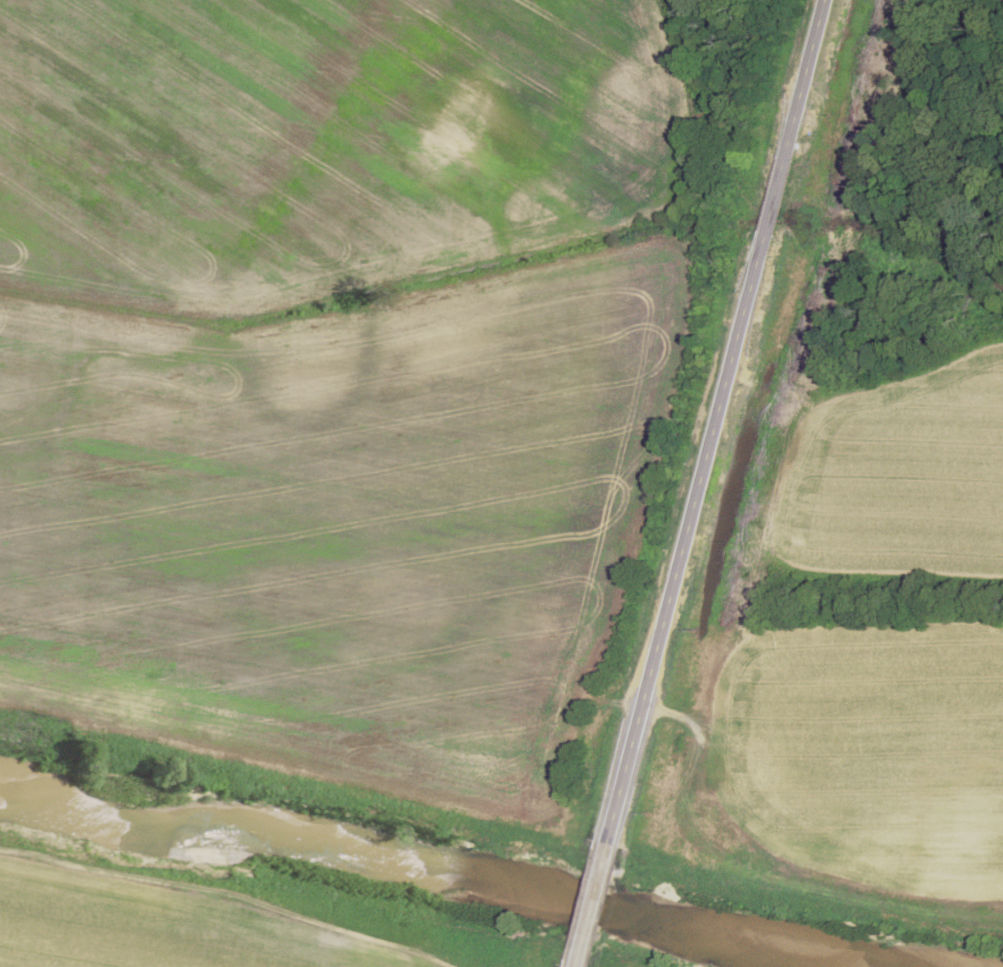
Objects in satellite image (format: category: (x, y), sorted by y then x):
road: (717, 423)
river: (467, 869)
road: (591, 906)

